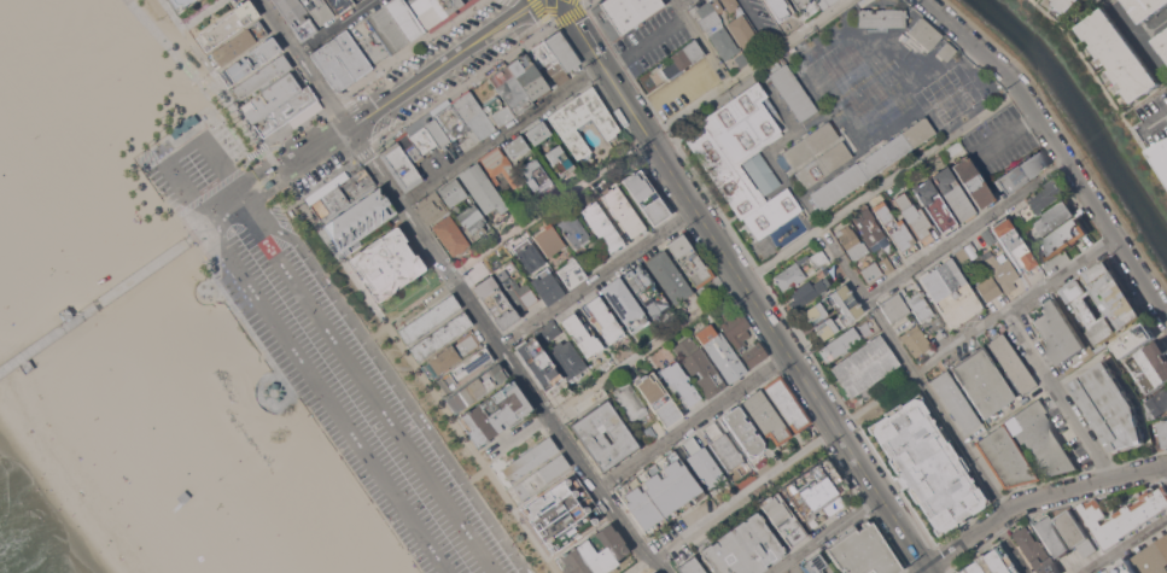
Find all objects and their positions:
building: (356, 0)
road: (579, 0)
road: (582, 0)
building: (825, 1)
building: (800, 2)
building: (179, 4)
building: (339, 4)
building: (449, 5)
road: (677, 5)
building: (729, 5)
building: (1068, 5)
building: (780, 8)
building: (1148, 8)
building: (319, 10)
building: (427, 11)
road: (550, 11)
road: (202, 13)
building: (708, 13)
building: (625, 14)
building: (297, 17)
building: (882, 18)
road: (555, 19)
road: (758, 23)
building: (226, 24)
building: (395, 24)
road: (335, 27)
road: (1154, 27)
building: (742, 30)
building: (924, 33)
road: (1139, 35)
road: (653, 37)
road: (165, 41)
building: (723, 42)
building: (1162, 42)
building: (239, 43)
road: (704, 46)
road: (409, 48)
building: (562, 51)
building: (945, 51)
building: (350, 54)
building: (1120, 54)
building: (683, 58)
building: (250, 60)
building: (741, 60)
road: (303, 63)
building: (548, 63)
road: (440, 64)
building: (332, 66)
building: (527, 75)
building: (259, 77)
road: (217, 78)
road: (463, 82)
building: (88, 88)
building: (509, 88)
road: (1103, 88)
building: (792, 90)
road: (844, 97)
building: (270, 98)
road: (332, 104)
building: (288, 111)
building: (497, 112)
building: (473, 115)
road: (234, 116)
building: (449, 119)
road: (1159, 119)
building: (582, 121)
road: (228, 125)
road: (292, 128)
building: (743, 129)
building: (537, 130)
road: (1143, 130)
road: (368, 131)
road: (502, 135)
building: (422, 136)
road: (647, 136)
road: (1003, 136)
road: (652, 140)
building: (810, 145)
building: (514, 146)
road: (313, 147)
road: (182, 148)
road: (1055, 148)
road: (256, 152)
building: (1163, 153)
road: (267, 154)
building: (560, 162)
road: (245, 163)
road: (274, 163)
building: (822, 164)
building: (871, 164)
building: (401, 165)
building: (498, 165)
building: (762, 173)
building: (1021, 173)
road: (255, 175)
road: (282, 175)
building: (535, 175)
road: (229, 177)
road: (325, 177)
building: (973, 182)
road: (263, 185)
road: (880, 185)
road: (249, 188)
building: (741, 188)
road: (292, 189)
road: (208, 192)
building: (453, 192)
building: (484, 192)
building: (342, 194)
building: (953, 194)
building: (646, 197)
building: (1043, 199)
road: (192, 205)
road: (222, 207)
building: (935, 207)
building: (624, 211)
building: (914, 218)
building: (1054, 218)
building: (357, 220)
building: (442, 222)
building: (473, 222)
road: (189, 223)
building: (602, 226)
road: (964, 227)
building: (870, 229)
building: (895, 230)
building: (573, 232)
building: (988, 236)
building: (548, 239)
building: (1064, 239)
building: (1013, 244)
building: (529, 253)
building: (858, 253)
building: (961, 256)
building: (818, 257)
building: (690, 261)
building: (386, 263)
building: (887, 264)
building: (1002, 270)
building: (822, 271)
road: (447, 273)
building: (571, 273)
road: (759, 273)
building: (789, 275)
building: (669, 276)
road: (599, 277)
building: (514, 286)
building: (547, 287)
building: (987, 288)
building: (646, 290)
building: (950, 291)
building: (806, 293)
building: (1104, 300)
road: (95, 302)
building: (496, 302)
road: (407, 305)
building: (917, 305)
building: (625, 306)
building: (894, 306)
pier: (91, 308)
building: (813, 311)
building: (64, 314)
building: (430, 318)
building: (605, 320)
building: (548, 331)
road: (974, 332)
building: (1058, 332)
building: (582, 334)
building: (442, 335)
building: (741, 337)
building: (915, 340)
building: (1134, 340)
building: (842, 341)
road: (646, 349)
building: (722, 351)
building: (454, 352)
building: (567, 359)
building: (1081, 359)
parking lot: (326, 362)
building: (539, 363)
building: (1011, 363)
building: (699, 366)
building: (864, 366)
building: (1151, 367)
building: (465, 369)
road: (914, 369)
road: (395, 379)
building: (679, 382)
building: (982, 382)
road: (427, 384)
road: (364, 385)
building: (477, 387)
building: (273, 391)
road: (1060, 393)
road: (326, 396)
building: (658, 398)
building: (1161, 398)
building: (630, 400)
building: (955, 402)
building: (786, 403)
building: (1110, 407)
building: (495, 413)
building: (766, 417)
road: (694, 420)
road: (836, 427)
building: (1163, 431)
building: (743, 432)
road: (519, 435)
building: (590, 437)
building: (993, 443)
building: (722, 445)
road: (485, 456)
building: (530, 460)
building: (702, 463)
building: (927, 464)
road: (1165, 467)
road: (475, 474)
building: (541, 475)
building: (658, 491)
road: (743, 492)
building: (817, 492)
road: (605, 496)
road: (1035, 498)
building: (562, 513)
building: (1122, 516)
building: (191, 519)
building: (782, 519)
building: (1075, 532)
road: (825, 533)
building: (1051, 537)
road: (1125, 545)
road: (1010, 546)
building: (743, 548)
building: (863, 551)
building: (1033, 551)
building: (595, 552)
building: (1154, 557)
building: (988, 562)
building: (815, 563)
road: (637, 565)
building: (1124, 566)
building: (690, 567)
building: (1107, 571)
building: (653, 572)
building: (793, 572)
building: (832, 572)

